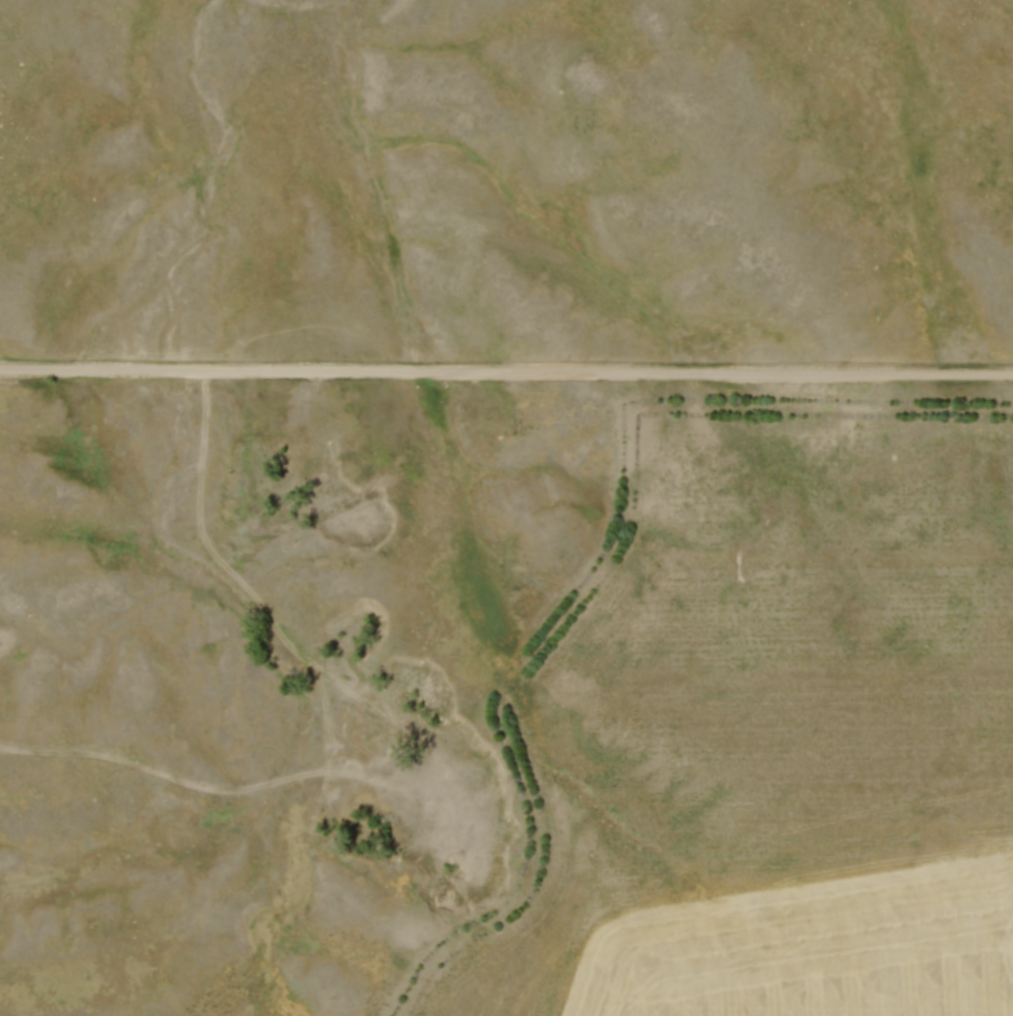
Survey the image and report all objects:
road: (506, 370)
crop: (814, 950)

